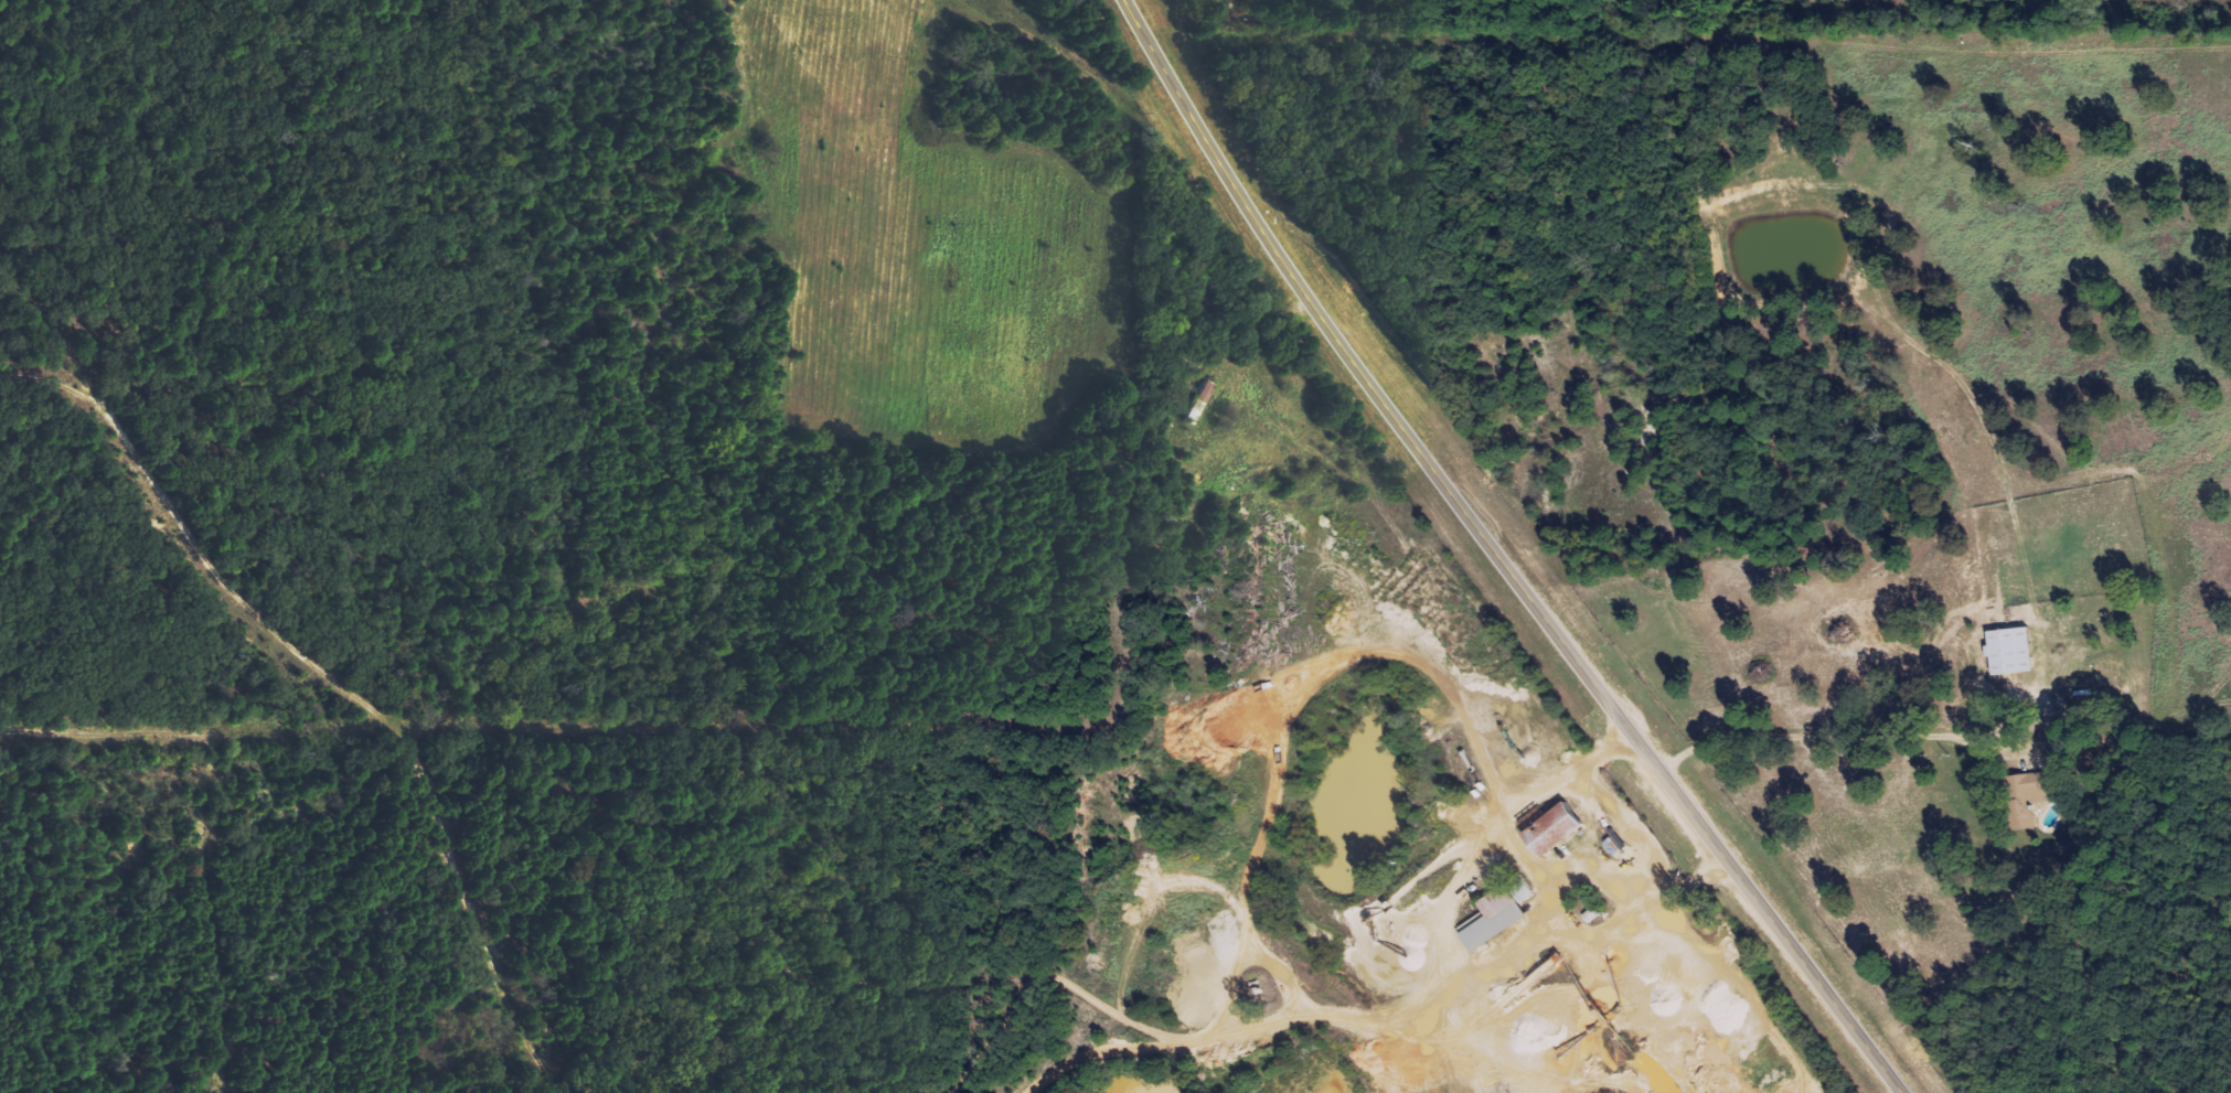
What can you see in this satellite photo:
road: (203, 269)
building: (1199, 403)
road: (1497, 558)
building: (2013, 652)
building: (2029, 797)
building: (1557, 831)

